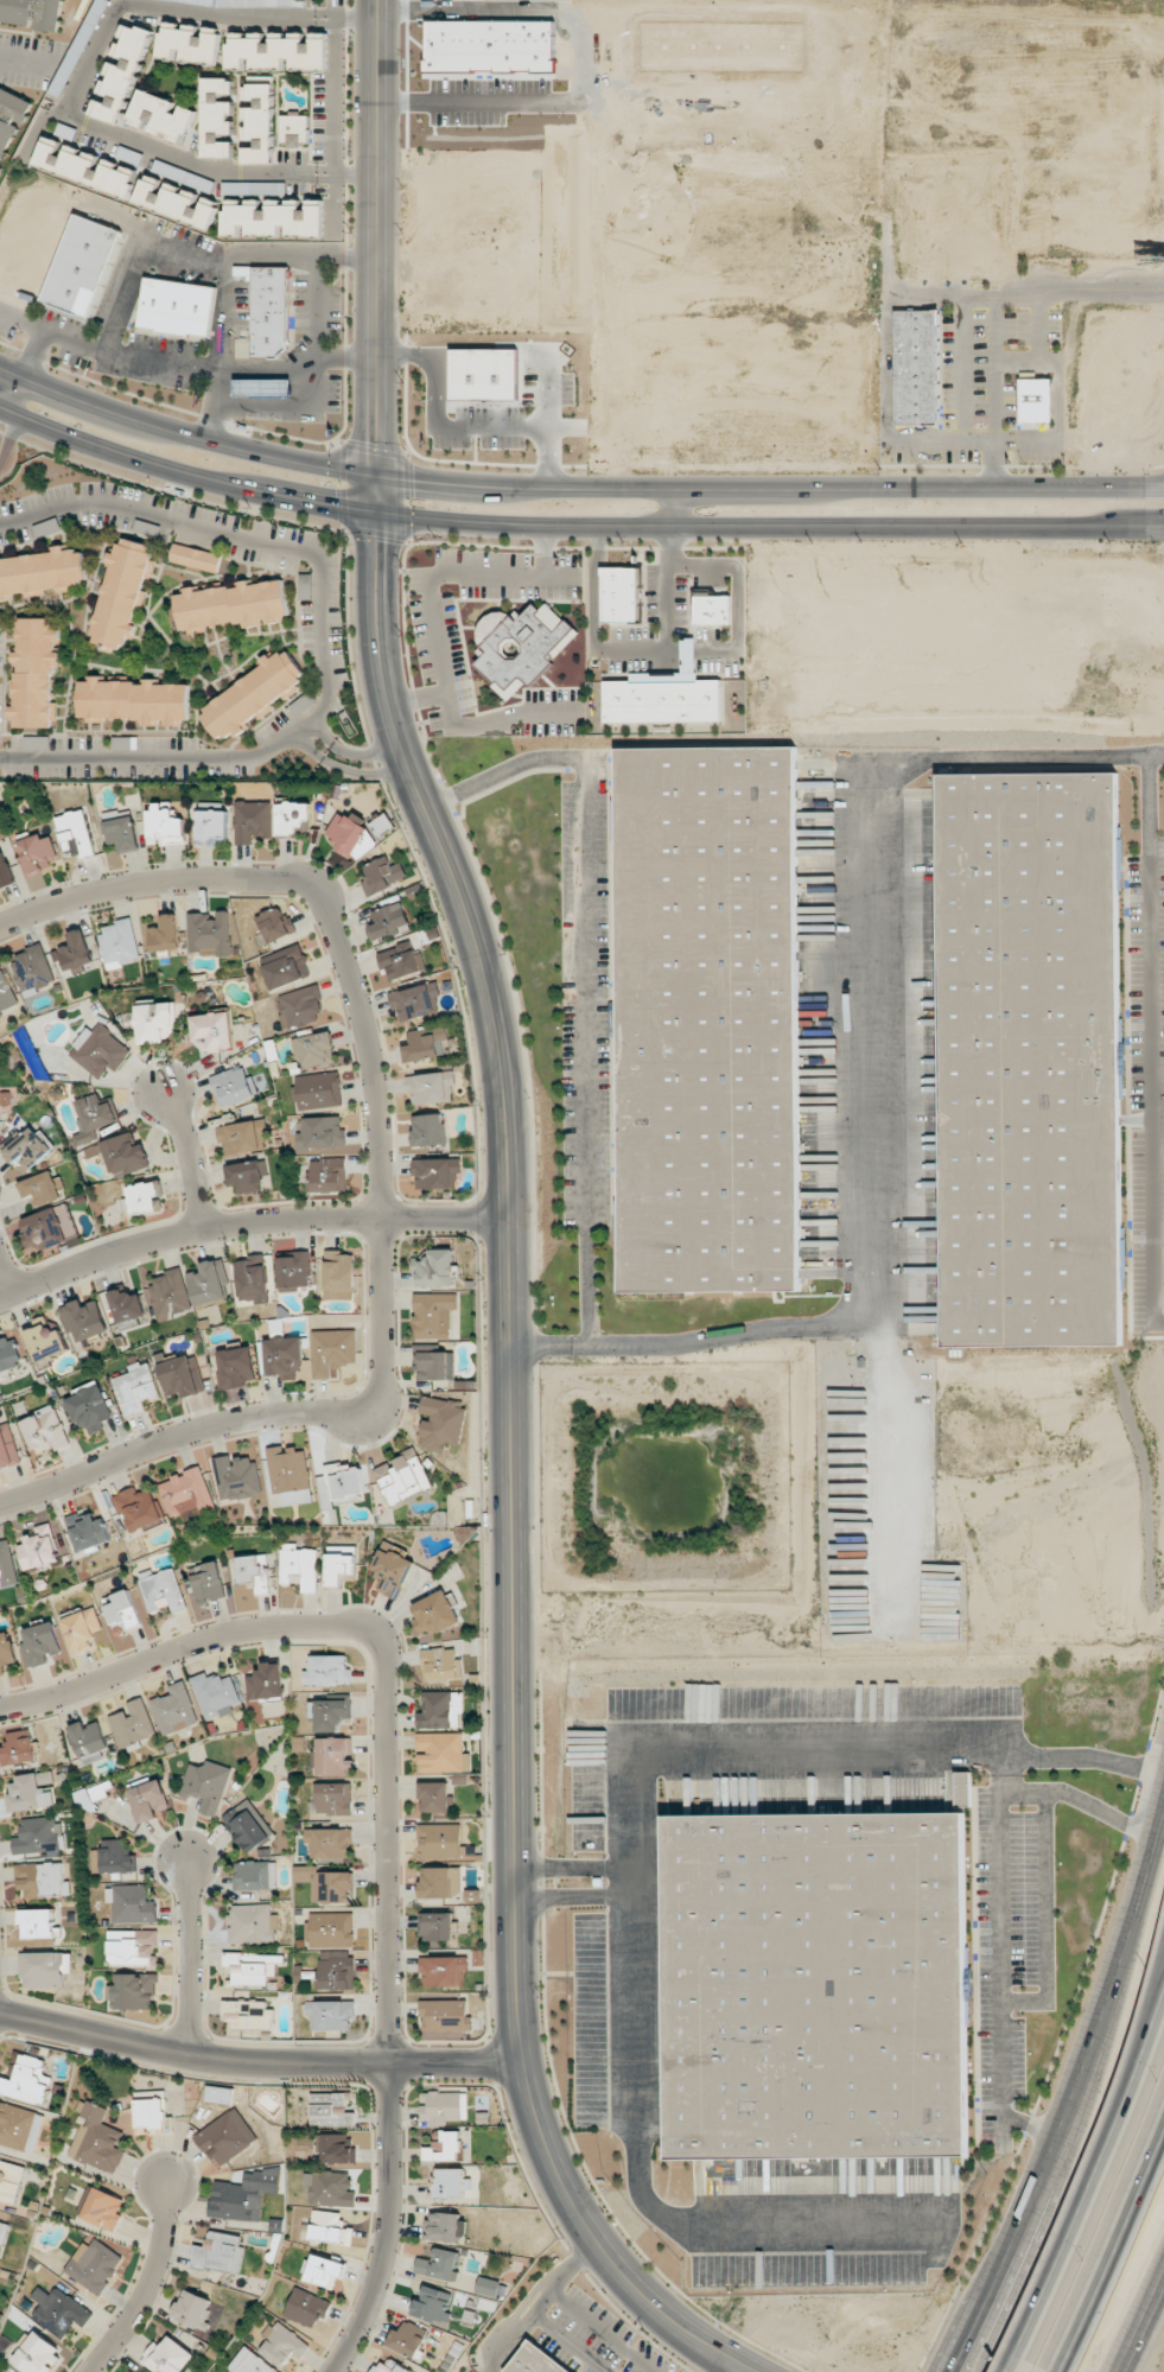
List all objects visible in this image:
building: (31, 13)
building: (189, 43)
building: (78, 47)
building: (276, 51)
road: (19, 62)
building: (121, 72)
road: (79, 85)
building: (161, 116)
building: (217, 117)
building: (11, 119)
building: (257, 120)
building: (294, 128)
building: (129, 155)
building: (85, 166)
building: (183, 176)
building: (177, 201)
building: (274, 217)
road: (379, 237)
building: (82, 265)
road: (227, 273)
building: (178, 306)
building: (269, 310)
building: (241, 346)
road: (107, 349)
road: (33, 351)
building: (916, 365)
road: (299, 369)
building: (484, 374)
road: (15, 395)
building: (1035, 400)
road: (5, 416)
road: (185, 432)
road: (9, 437)
traffic signals: (377, 443)
road: (184, 475)
traffic signals: (413, 481)
road: (770, 488)
road: (376, 494)
traffic signals: (333, 505)
road: (675, 509)
road: (769, 529)
traffic signals: (376, 541)
building: (195, 558)
building: (43, 572)
building: (122, 593)
building: (622, 593)
building: (233, 604)
building: (712, 608)
road: (326, 636)
building: (520, 646)
building: (36, 672)
building: (666, 693)
building: (252, 695)
building: (134, 699)
road: (322, 731)
road: (309, 743)
road: (363, 752)
road: (362, 772)
building: (293, 818)
building: (253, 821)
building: (212, 823)
building: (165, 825)
building: (120, 829)
building: (75, 833)
building: (345, 833)
building: (37, 854)
building: (5, 871)
building: (381, 876)
road: (148, 884)
building: (388, 920)
building: (274, 924)
building: (165, 934)
building: (210, 934)
building: (119, 945)
building: (75, 950)
building: (401, 960)
building: (286, 967)
road: (583, 968)
building: (33, 969)
building: (6, 994)
building: (416, 1001)
building: (300, 1006)
building: (706, 1020)
building: (154, 1022)
building: (212, 1030)
building: (425, 1045)
building: (313, 1049)
building: (98, 1050)
building: (1026, 1060)
road: (866, 1074)
building: (231, 1086)
building: (431, 1087)
building: (318, 1090)
building: (94, 1118)
building: (428, 1130)
building: (320, 1132)
building: (241, 1137)
building: (28, 1147)
building: (121, 1153)
road: (184, 1160)
building: (435, 1172)
building: (326, 1175)
building: (246, 1176)
building: (40, 1188)
building: (142, 1197)
road: (248, 1222)
building: (47, 1227)
building: (437, 1268)
building: (294, 1272)
building: (338, 1276)
building: (209, 1282)
road: (4, 1283)
building: (168, 1295)
building: (127, 1305)
building: (434, 1315)
building: (84, 1319)
road: (381, 1330)
building: (45, 1340)
building: (332, 1352)
building: (8, 1353)
building: (284, 1357)
building: (435, 1365)
building: (235, 1368)
building: (182, 1375)
building: (135, 1388)
building: (89, 1406)
building: (441, 1423)
building: (44, 1429)
building: (7, 1449)
road: (892, 1468)
building: (290, 1475)
building: (403, 1476)
building: (236, 1477)
road: (508, 1478)
building: (345, 1481)
building: (185, 1493)
building: (138, 1508)
building: (87, 1531)
building: (39, 1550)
building: (341, 1564)
building: (7, 1565)
building: (299, 1566)
building: (390, 1569)
building: (254, 1571)
building: (206, 1582)
building: (161, 1590)
building: (121, 1610)
building: (434, 1614)
building: (81, 1629)
building: (39, 1643)
building: (6, 1651)
road: (183, 1651)
building: (440, 1665)
building: (326, 1671)
building: (266, 1683)
building: (216, 1694)
building: (176, 1709)
building: (441, 1710)
building: (331, 1713)
building: (132, 1723)
building: (89, 1741)
building: (18, 1750)
building: (441, 1753)
building: (333, 1756)
road: (999, 1774)
building: (206, 1785)
building: (31, 1792)
building: (91, 1794)
building: (434, 1797)
building: (333, 1798)
building: (148, 1800)
building: (248, 1826)
building: (38, 1834)
building: (441, 1840)
building: (327, 1843)
road: (629, 1852)
building: (116, 1856)
building: (255, 1876)
building: (43, 1880)
road: (629, 1880)
building: (440, 1882)
building: (325, 1883)
road: (1000, 1902)
building: (131, 1903)
building: (38, 1922)
building: (252, 1923)
building: (437, 1926)
building: (331, 1929)
building: (132, 1947)
road: (190, 1960)
building: (252, 1967)
building: (45, 1970)
building: (444, 1971)
building: (336, 1973)
building: (816, 1985)
building: (133, 1991)
road: (390, 2007)
road: (1146, 2007)
building: (249, 2012)
building: (330, 2015)
building: (445, 2015)
road: (257, 2065)
building: (26, 2079)
building: (220, 2094)
road: (1074, 2098)
building: (444, 2106)
building: (330, 2110)
building: (151, 2112)
building: (20, 2128)
building: (225, 2137)
building: (95, 2138)
building: (444, 2148)
building: (337, 2149)
road: (1094, 2171)
building: (9, 2181)
building: (450, 2183)
building: (329, 2187)
building: (243, 2195)
building: (102, 2208)
building: (443, 2226)
building: (330, 2227)
building: (2, 2233)
road: (1115, 2249)
building: (218, 2252)
road: (1023, 2262)
building: (94, 2265)
building: (439, 2265)
building: (0, 2270)
building: (324, 2270)
road: (151, 2288)
building: (490, 2288)
building: (432, 2303)
road: (539, 2304)
building: (306, 2308)
building: (193, 2309)
building: (58, 2310)
road: (1145, 2327)
building: (407, 2339)
building: (282, 2345)
building: (37, 2354)
building: (167, 2357)
building: (530, 2361)
building: (249, 2363)
road: (1012, 2363)
road: (725, 2365)
building: (389, 2367)

